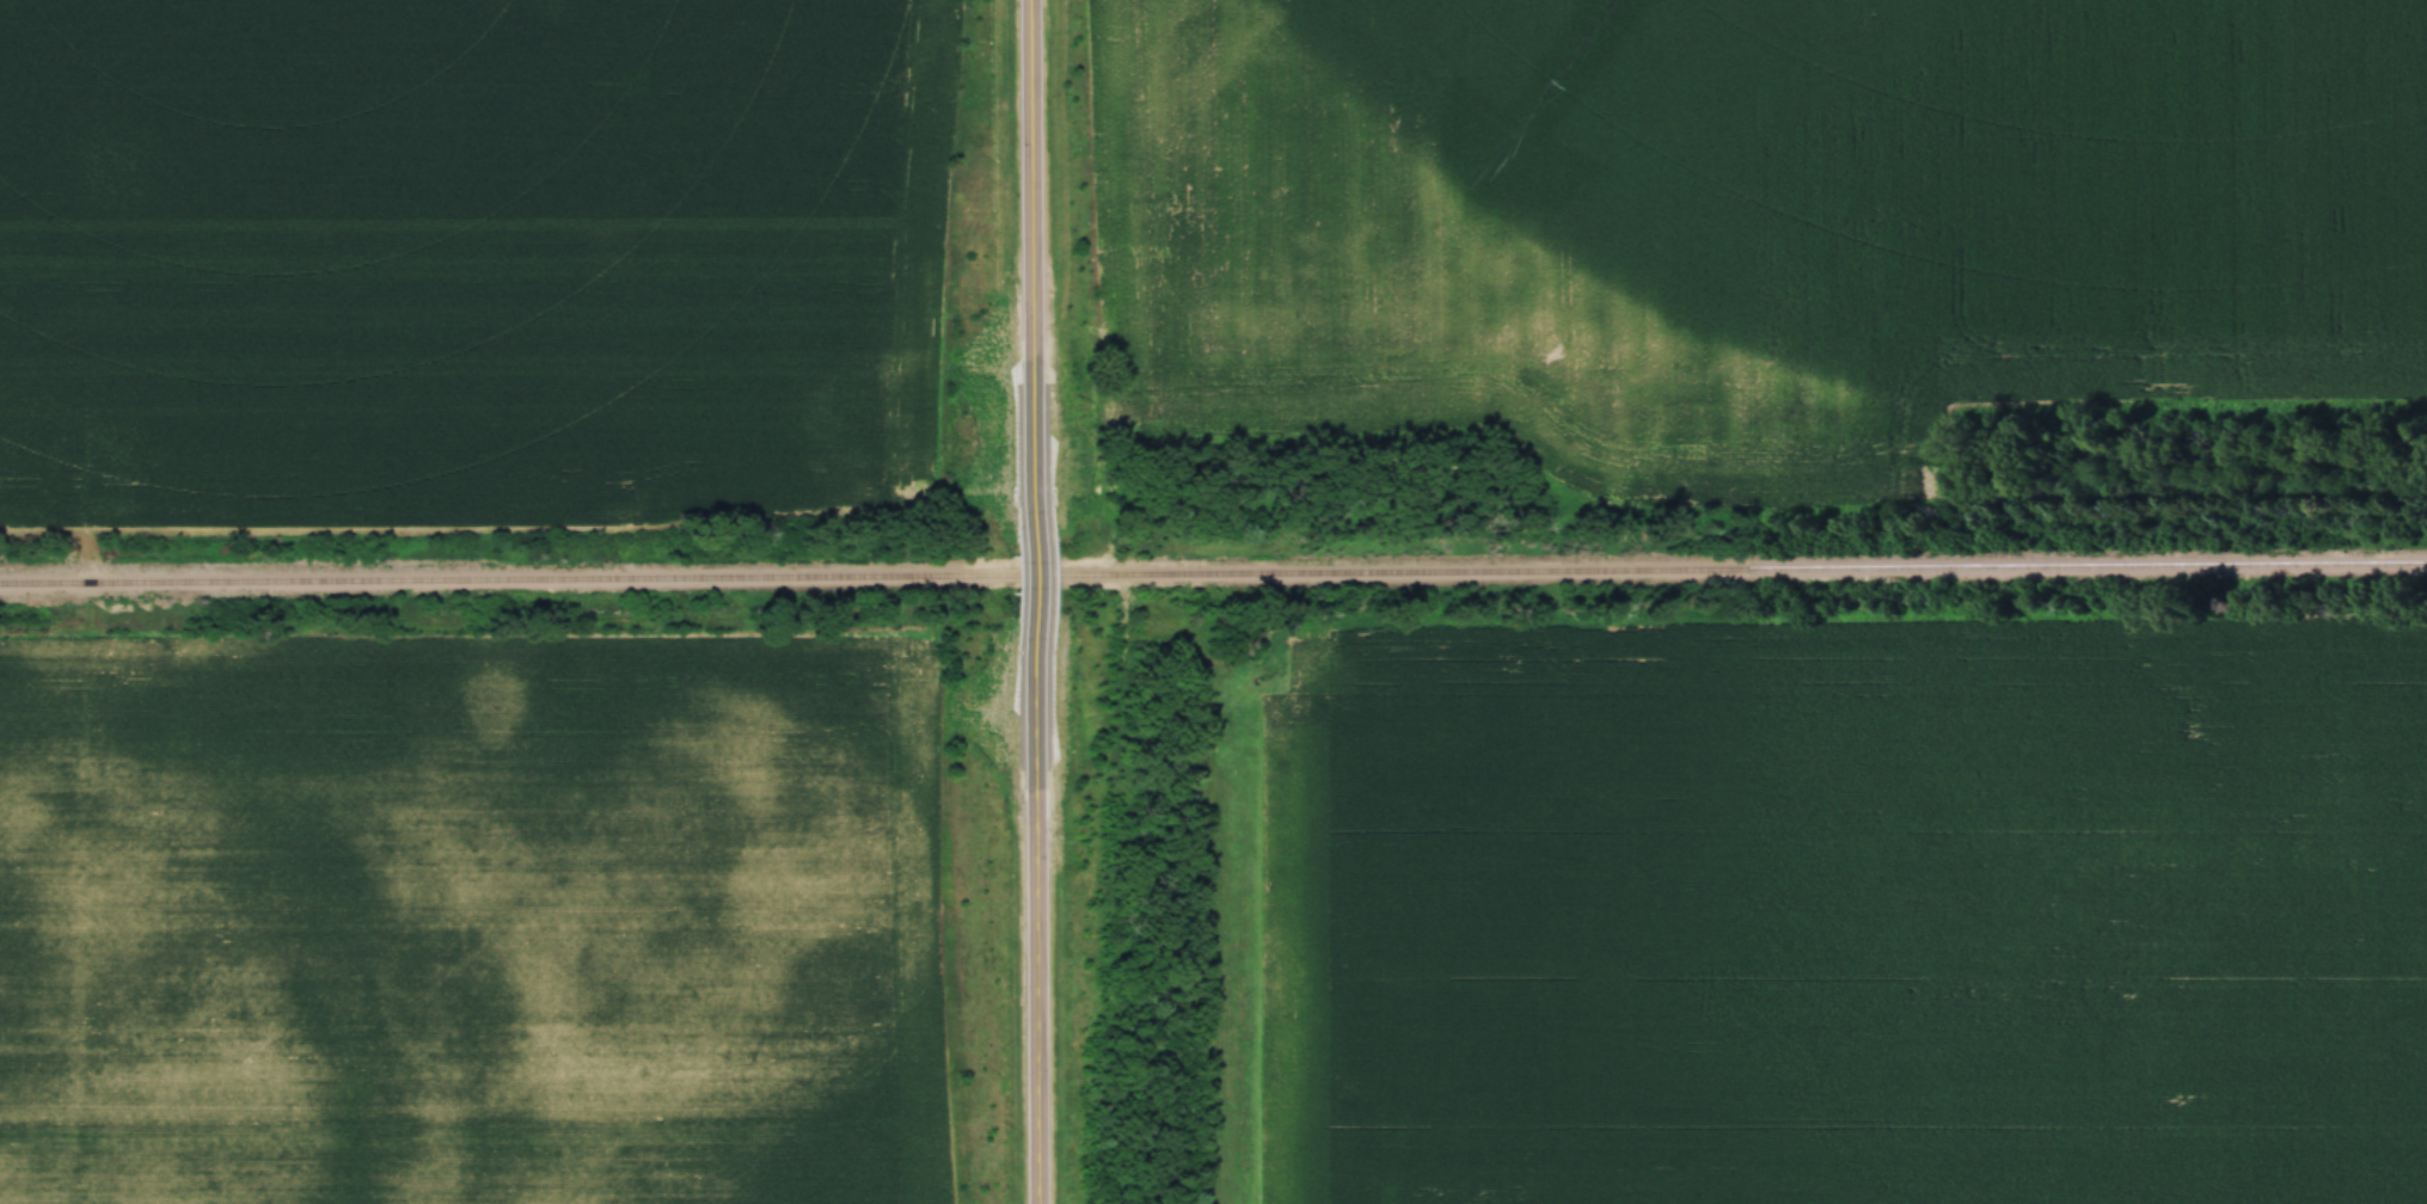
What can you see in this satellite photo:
road: (1036, 266)
railway: (1213, 572)
road: (1037, 577)
road: (1037, 913)

